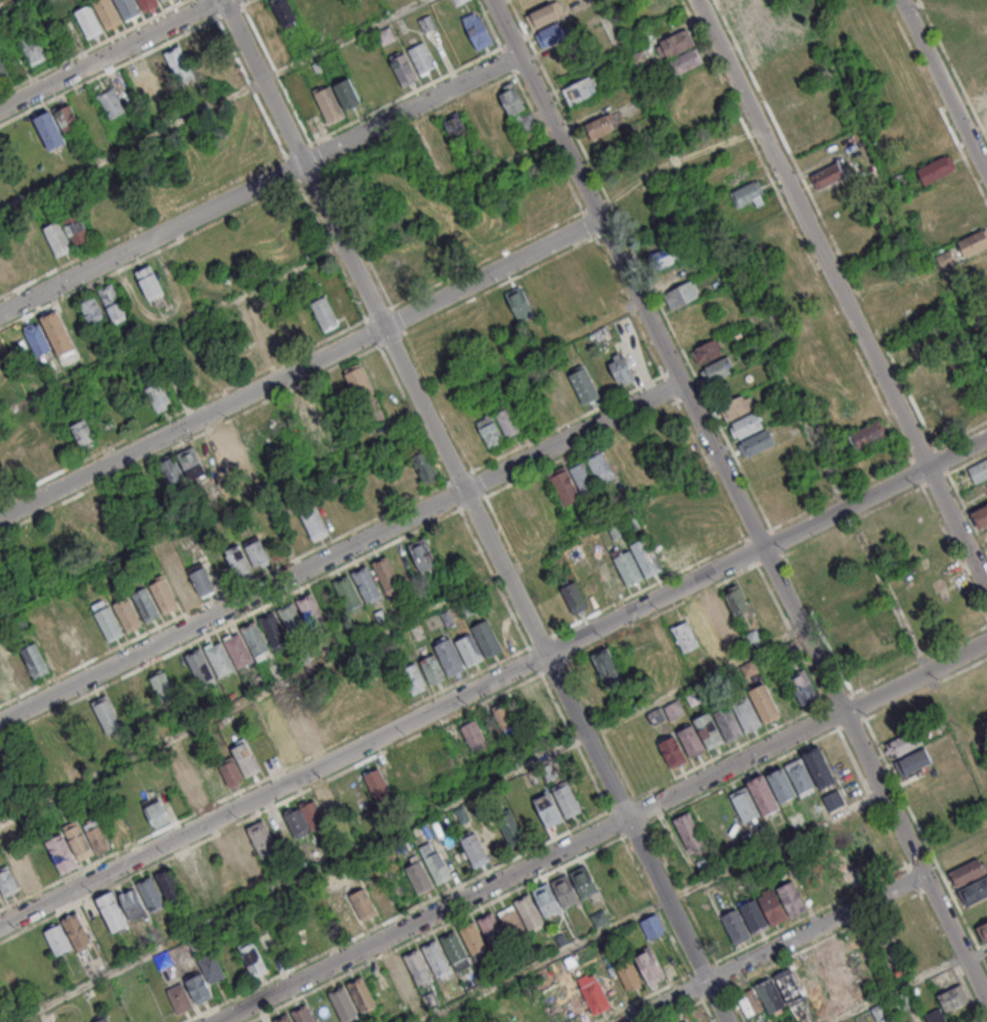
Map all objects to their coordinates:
building: (159, 0)
building: (459, 1)
building: (729, 1)
building: (166, 2)
building: (465, 2)
road: (8, 4)
building: (150, 4)
building: (660, 6)
building: (129, 9)
building: (109, 14)
building: (286, 14)
building: (544, 15)
building: (264, 20)
building: (91, 24)
building: (551, 34)
building: (480, 35)
building: (781, 37)
building: (388, 38)
building: (676, 43)
road: (95, 47)
building: (34, 52)
road: (112, 55)
building: (283, 57)
building: (424, 60)
building: (686, 61)
road: (122, 66)
building: (777, 66)
building: (181, 67)
building: (2, 71)
building: (406, 72)
building: (140, 78)
road: (943, 88)
building: (579, 90)
building: (982, 97)
building: (349, 98)
building: (113, 105)
road: (213, 106)
building: (515, 107)
building: (332, 108)
building: (494, 112)
building: (986, 112)
building: (602, 125)
building: (455, 126)
building: (921, 130)
building: (51, 134)
building: (724, 138)
building: (438, 139)
building: (511, 145)
building: (930, 149)
building: (936, 169)
building: (456, 172)
building: (826, 176)
building: (899, 176)
building: (625, 181)
road: (261, 184)
road: (894, 186)
building: (748, 195)
building: (541, 208)
building: (646, 220)
building: (966, 223)
road: (143, 228)
building: (57, 238)
building: (973, 242)
building: (663, 257)
building: (944, 259)
building: (978, 263)
building: (5, 266)
building: (414, 276)
building: (670, 276)
building: (985, 277)
building: (152, 286)
road: (844, 289)
building: (681, 294)
building: (518, 301)
building: (113, 305)
building: (91, 310)
building: (324, 313)
building: (482, 322)
road: (173, 330)
building: (57, 333)
road: (762, 336)
building: (267, 338)
building: (444, 339)
building: (37, 340)
building: (706, 352)
building: (620, 369)
road: (301, 370)
building: (716, 370)
building: (357, 381)
building: (587, 390)
building: (563, 392)
building: (158, 397)
building: (938, 400)
building: (736, 406)
building: (301, 407)
building: (507, 423)
building: (746, 425)
building: (490, 431)
building: (83, 433)
building: (867, 435)
road: (576, 437)
building: (756, 443)
building: (230, 448)
building: (45, 452)
road: (321, 458)
building: (600, 467)
building: (181, 468)
building: (427, 469)
building: (978, 471)
building: (581, 476)
building: (563, 485)
building: (525, 502)
road: (741, 503)
road: (478, 511)
building: (92, 515)
building: (315, 525)
building: (683, 539)
road: (767, 545)
building: (665, 550)
building: (256, 552)
building: (425, 557)
building: (646, 558)
building: (236, 561)
building: (934, 563)
building: (628, 569)
building: (388, 575)
building: (609, 579)
building: (204, 581)
building: (368, 585)
building: (185, 589)
building: (349, 594)
building: (572, 597)
building: (166, 598)
building: (735, 600)
building: (148, 606)
road: (234, 607)
building: (716, 608)
building: (311, 612)
building: (838, 612)
building: (129, 617)
building: (699, 617)
building: (294, 622)
building: (111, 626)
building: (846, 630)
building: (275, 631)
building: (71, 639)
building: (752, 639)
building: (256, 641)
building: (478, 643)
building: (657, 644)
building: (788, 649)
building: (240, 652)
building: (448, 656)
building: (221, 662)
road: (328, 662)
building: (36, 663)
building: (201, 668)
building: (607, 668)
building: (432, 669)
building: (19, 672)
building: (180, 678)
building: (658, 678)
building: (413, 679)
building: (978, 680)
building: (4, 685)
building: (160, 686)
building: (803, 687)
building: (141, 693)
building: (764, 703)
building: (541, 708)
building: (746, 713)
building: (106, 714)
building: (504, 718)
building: (728, 722)
building: (70, 733)
building: (473, 734)
building: (302, 735)
building: (700, 735)
building: (905, 742)
building: (285, 745)
building: (671, 751)
building: (245, 759)
building: (914, 761)
building: (820, 764)
building: (231, 773)
building: (801, 773)
building: (782, 782)
building: (188, 783)
building: (210, 783)
building: (380, 788)
road: (274, 789)
building: (763, 795)
building: (567, 801)
building: (745, 804)
building: (548, 810)
building: (155, 812)
building: (313, 814)
road: (598, 817)
road: (409, 825)
building: (510, 830)
road: (602, 831)
building: (688, 831)
building: (86, 838)
building: (254, 844)
building: (474, 848)
building: (61, 853)
building: (434, 862)
building: (968, 871)
building: (16, 875)
building: (418, 875)
building: (187, 878)
building: (168, 884)
building: (586, 886)
building: (975, 890)
building: (150, 893)
road: (851, 894)
building: (567, 895)
building: (0, 898)
building: (383, 898)
building: (792, 898)
building: (132, 904)
building: (363, 904)
building: (549, 905)
road: (653, 907)
road: (656, 907)
building: (774, 907)
building: (112, 912)
building: (345, 913)
building: (530, 915)
building: (753, 916)
building: (511, 922)
building: (736, 925)
building: (653, 926)
building: (77, 931)
building: (493, 932)
building: (983, 933)
building: (57, 939)
building: (475, 942)
road: (777, 948)
building: (457, 951)
road: (976, 955)
building: (843, 956)
building: (252, 958)
building: (437, 960)
building: (651, 966)
building: (419, 970)
building: (628, 971)
building: (398, 972)
building: (204, 978)
building: (807, 978)
road: (677, 982)
building: (789, 985)
road: (898, 989)
building: (770, 994)
building: (596, 995)
building: (363, 997)
building: (952, 997)
building: (179, 998)
building: (749, 1003)
road: (737, 1005)
building: (344, 1007)
building: (304, 1016)
building: (934, 1016)
building: (100, 1018)
building: (287, 1020)
building: (686, 1021)
building: (914, 1021)

